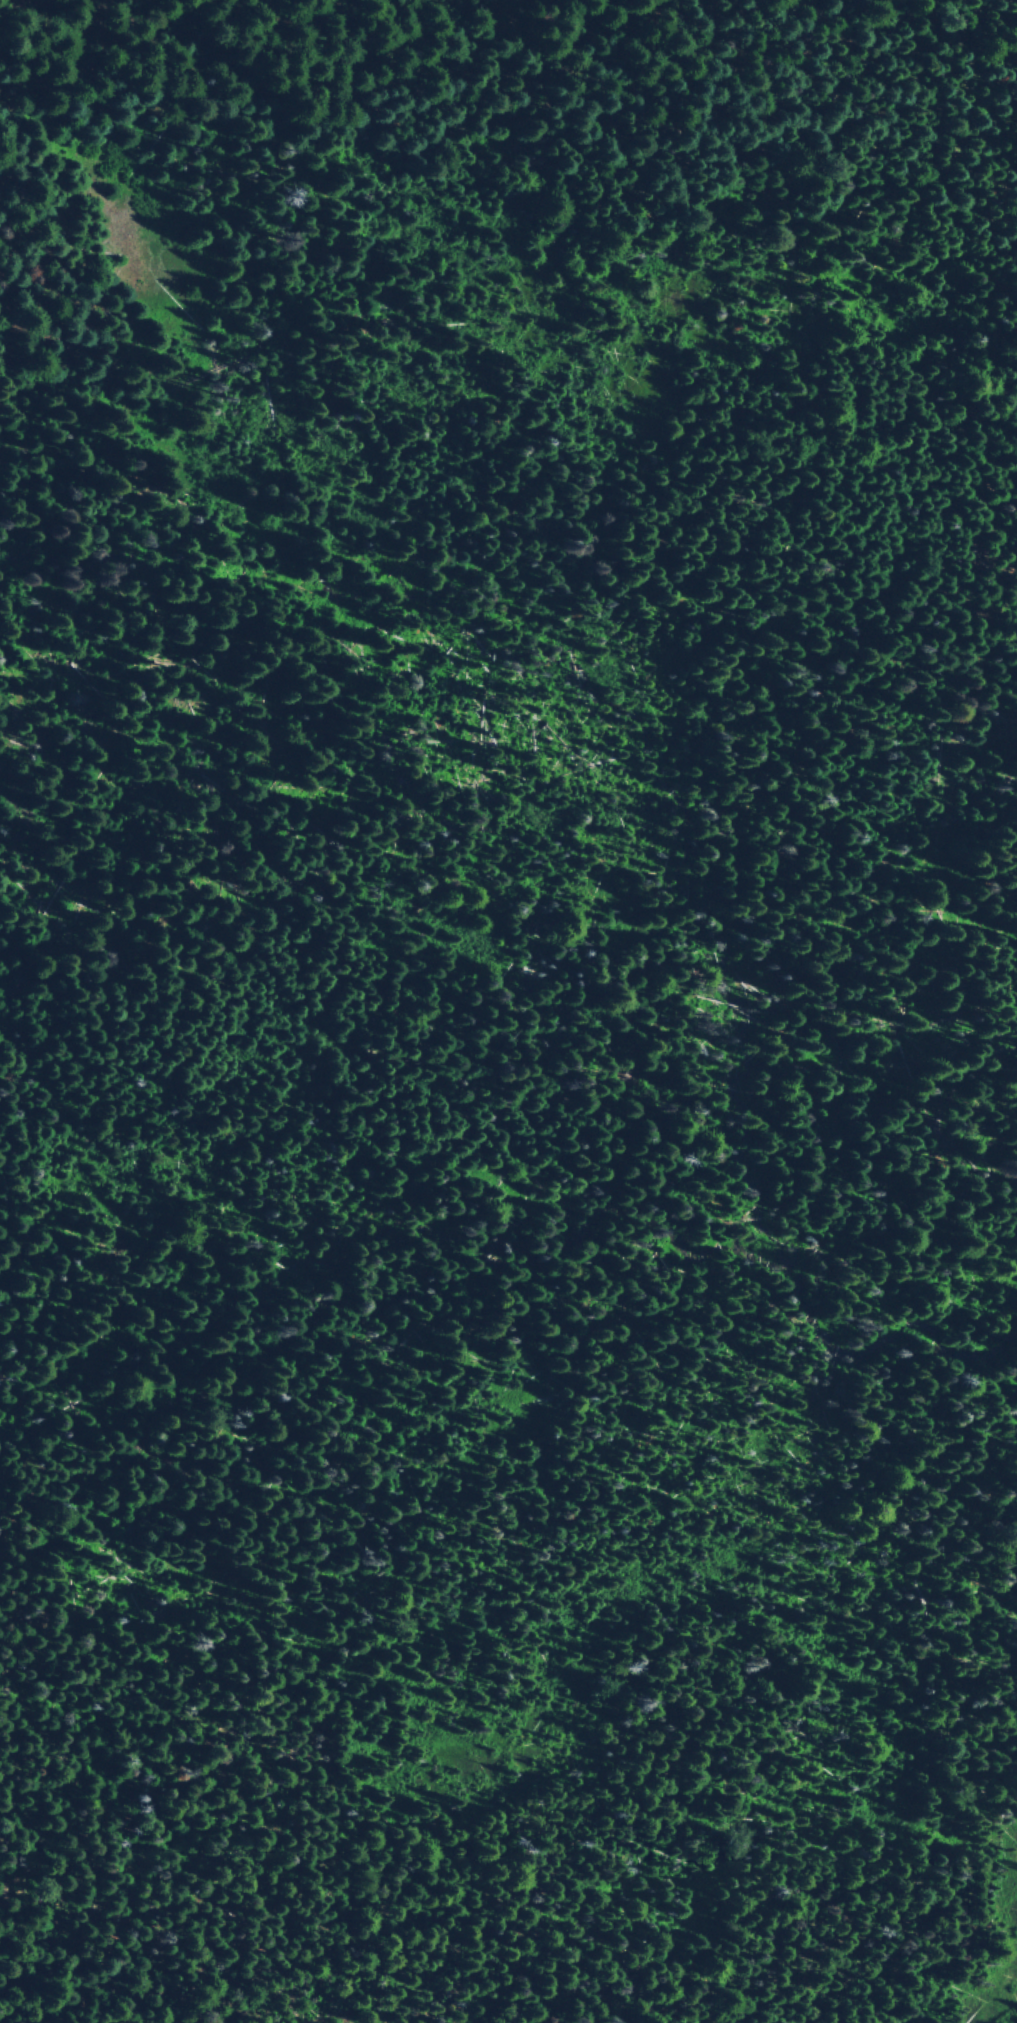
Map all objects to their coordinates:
road: (594, 545)

